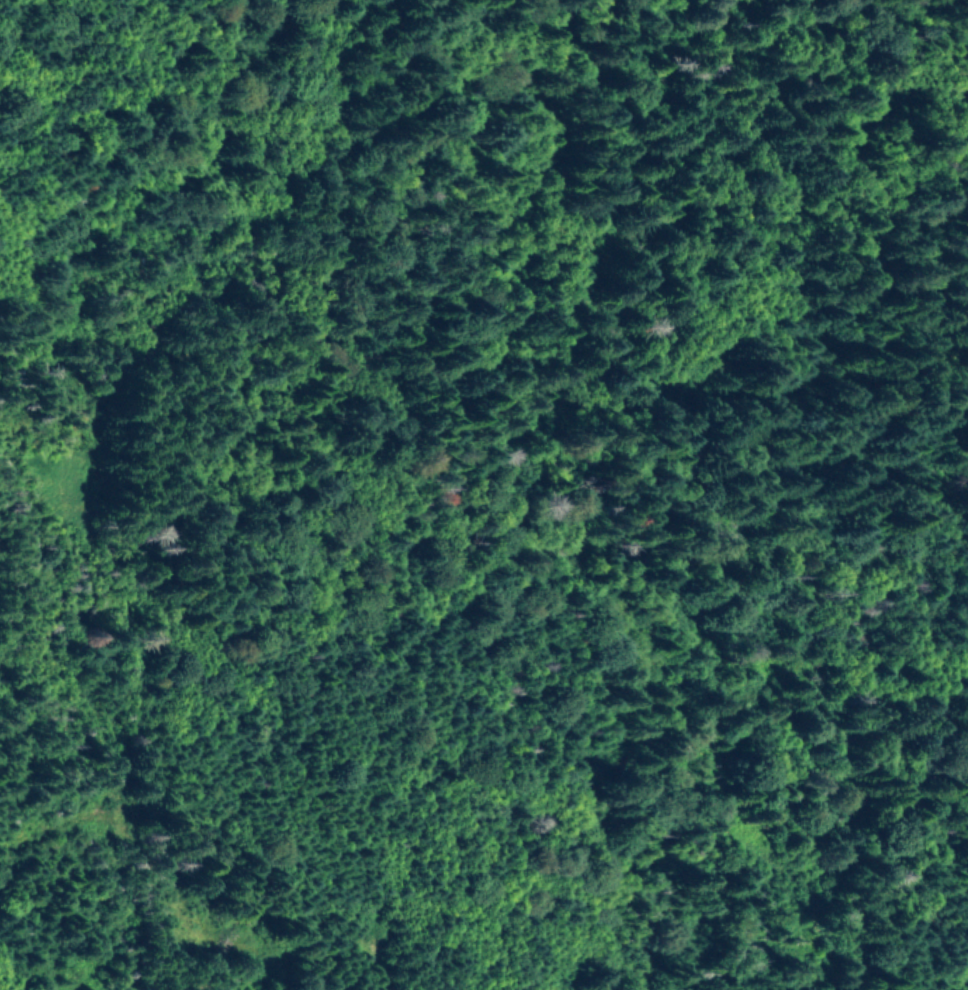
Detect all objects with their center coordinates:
road: (485, 504)
road: (476, 954)

